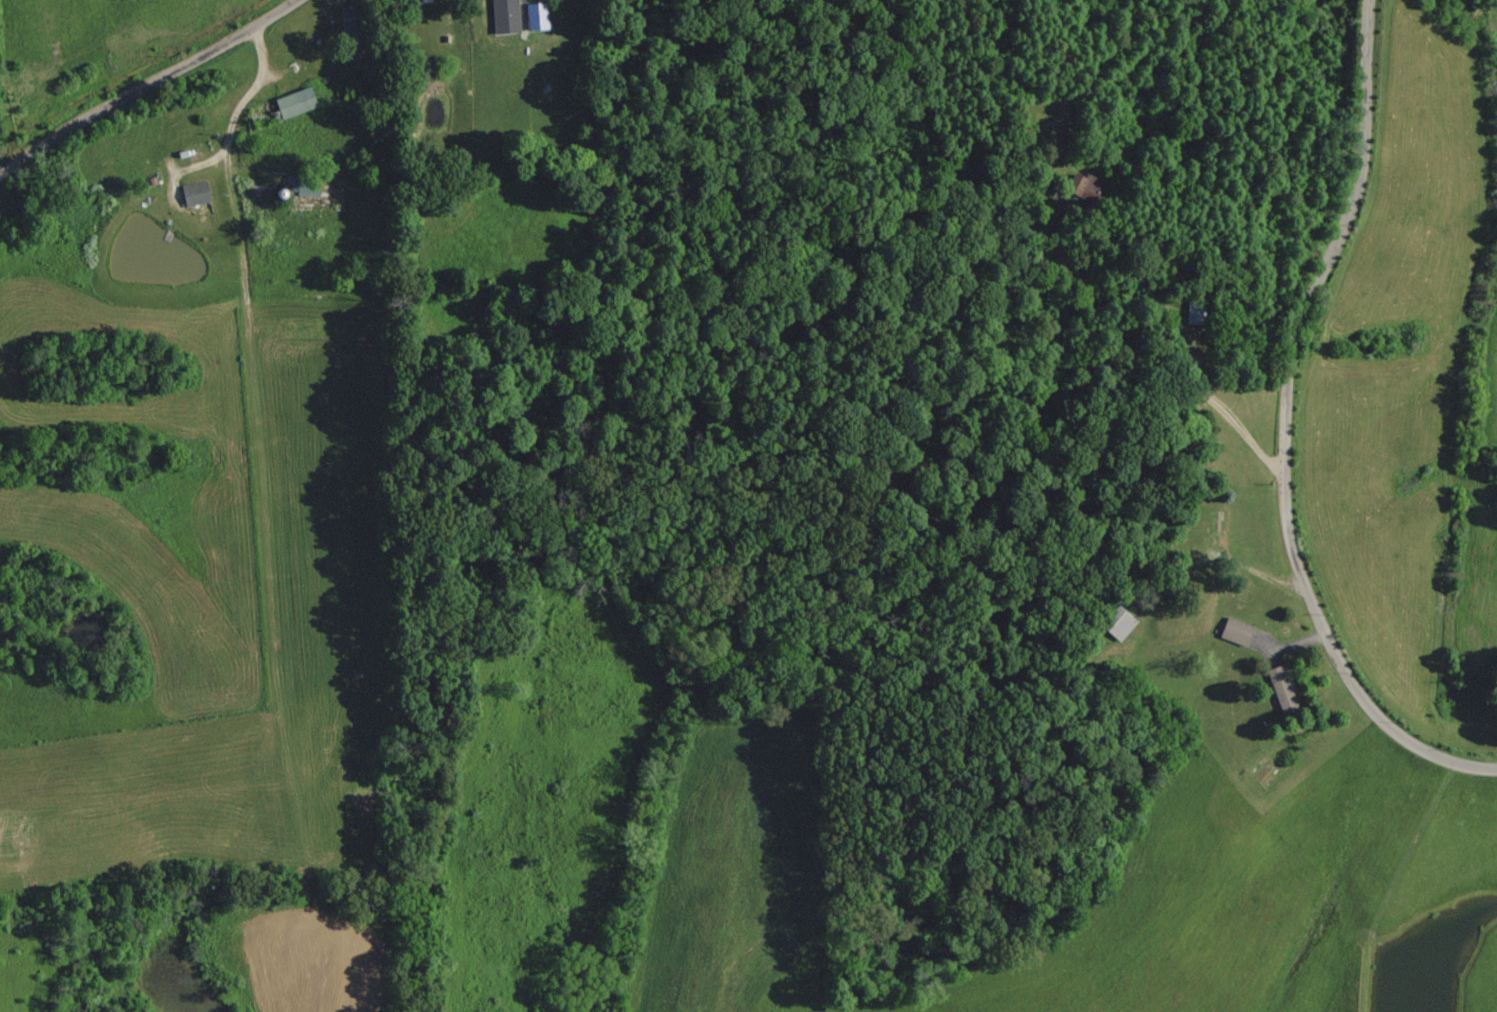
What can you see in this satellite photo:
building: (505, 15)
building: (536, 15)
road: (147, 85)
building: (295, 102)
building: (1079, 185)
building: (303, 186)
building: (194, 193)
road: (1281, 431)
building: (1118, 623)
building: (1235, 631)
building: (1281, 689)

